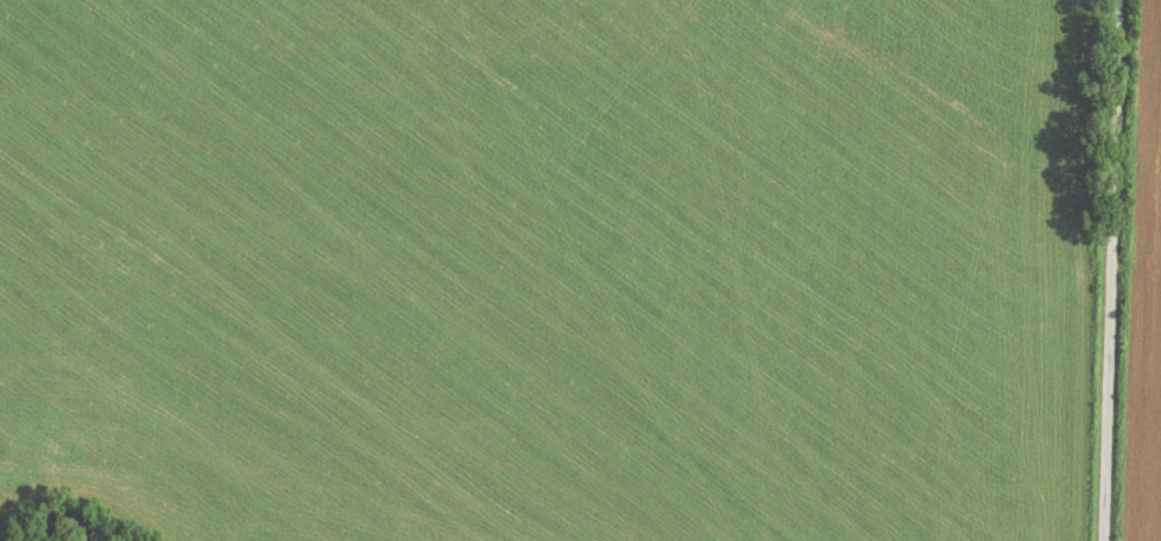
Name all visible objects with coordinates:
road: (1110, 270)

